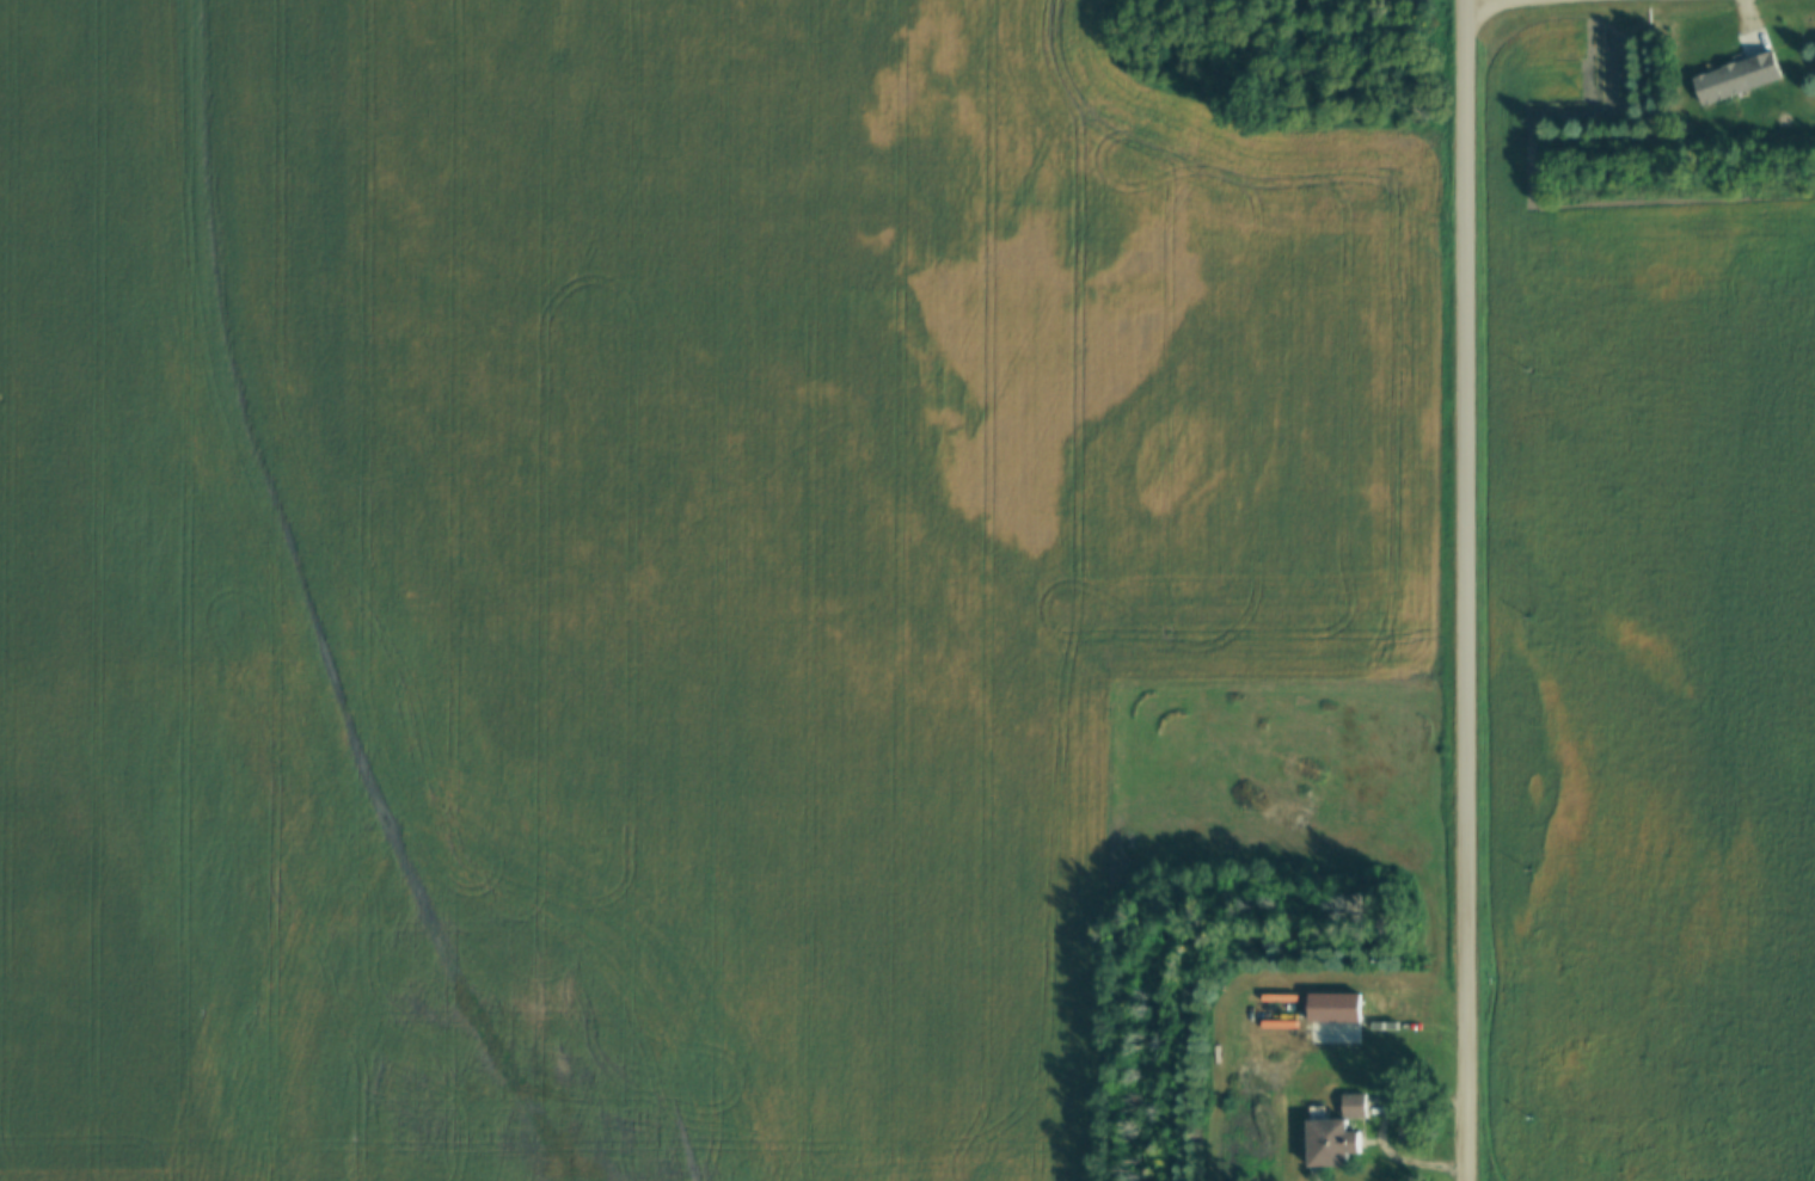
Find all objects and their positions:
road: (1470, 590)
building: (1331, 1134)
road: (1397, 1150)

